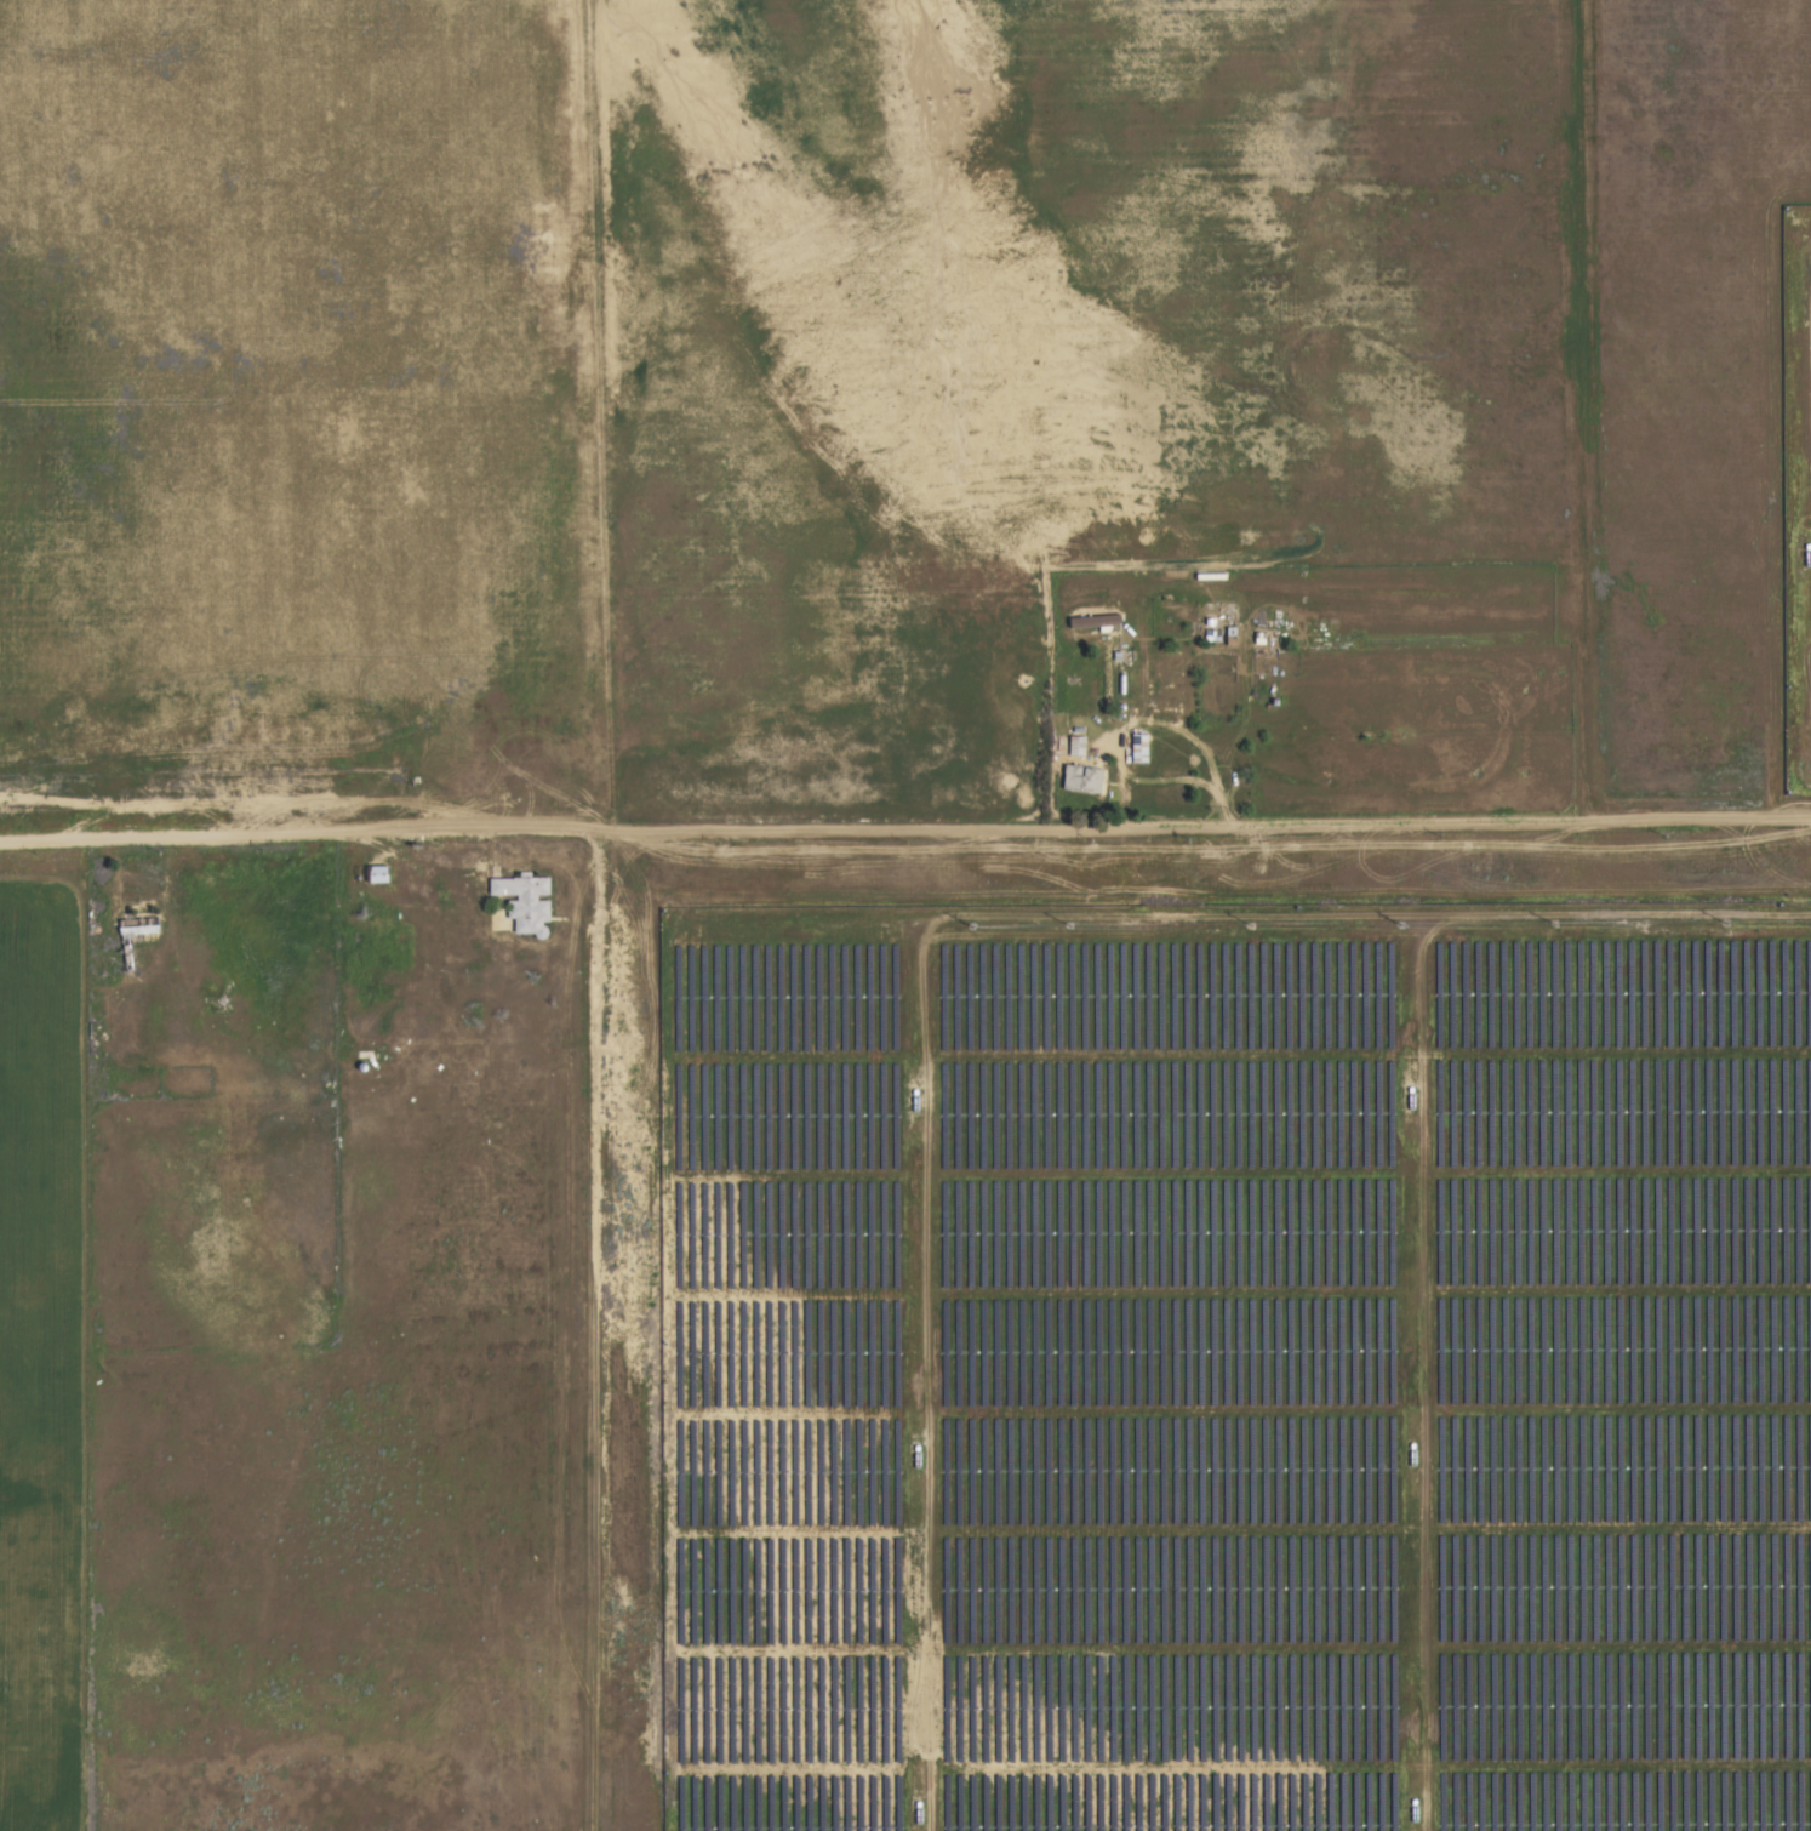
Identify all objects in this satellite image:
building: (1090, 623)
building: (1079, 780)
road: (904, 855)
building: (520, 903)
road: (593, 1342)

